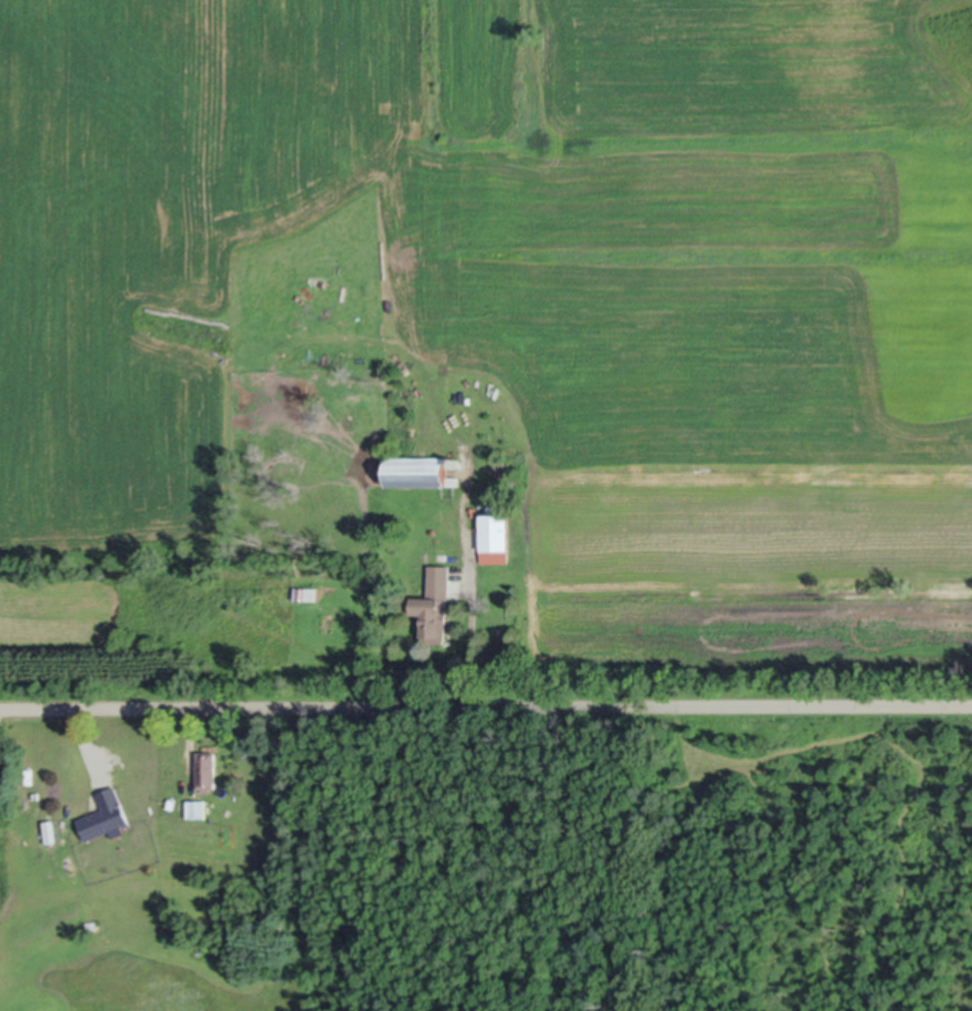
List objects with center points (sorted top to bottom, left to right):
building: (418, 470)
building: (494, 536)
building: (308, 592)
building: (434, 604)
road: (471, 646)
building: (672, 702)
road: (485, 705)
road: (85, 737)
road: (190, 741)
building: (205, 767)
building: (195, 806)
building: (104, 812)

